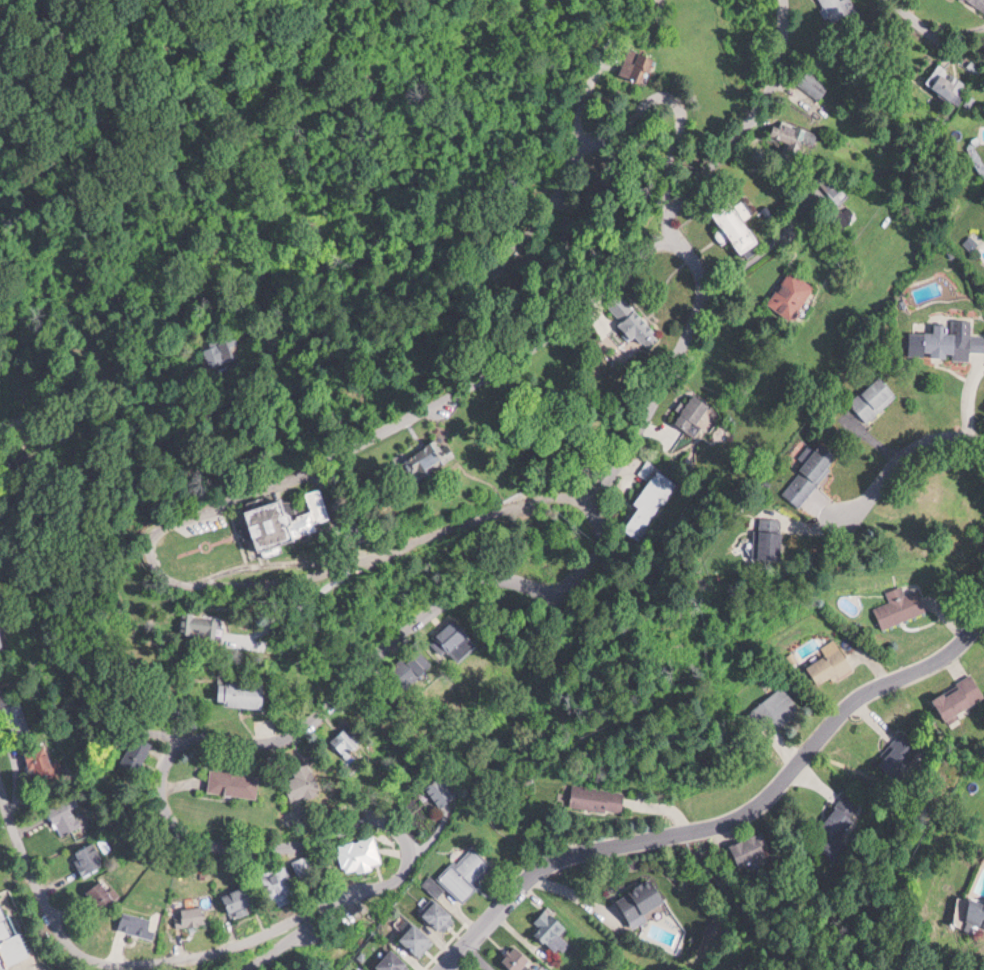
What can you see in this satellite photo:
building: (980, 2)
building: (841, 12)
road: (922, 26)
building: (636, 64)
building: (948, 81)
road: (743, 128)
building: (794, 133)
building: (737, 227)
building: (791, 294)
building: (642, 326)
building: (942, 338)
building: (219, 347)
road: (104, 394)
building: (875, 397)
building: (694, 411)
road: (904, 447)
building: (432, 460)
building: (813, 472)
building: (651, 501)
road: (198, 517)
building: (293, 522)
building: (761, 547)
building: (902, 606)
building: (204, 625)
building: (1, 635)
building: (457, 639)
building: (831, 666)
building: (414, 669)
building: (243, 692)
building: (957, 696)
building: (12, 709)
building: (777, 709)
road: (305, 716)
building: (346, 745)
building: (136, 754)
building: (897, 754)
building: (44, 765)
building: (235, 782)
building: (303, 782)
building: (442, 791)
building: (601, 799)
building: (65, 814)
road: (724, 818)
building: (837, 826)
building: (752, 848)
building: (89, 856)
building: (467, 870)
building: (284, 879)
building: (103, 892)
building: (242, 896)
building: (643, 899)
building: (973, 909)
building: (440, 912)
building: (195, 913)
building: (138, 921)
building: (551, 928)
building: (9, 937)
building: (418, 937)
building: (519, 957)
building: (395, 960)
road: (113, 967)
building: (371, 969)

